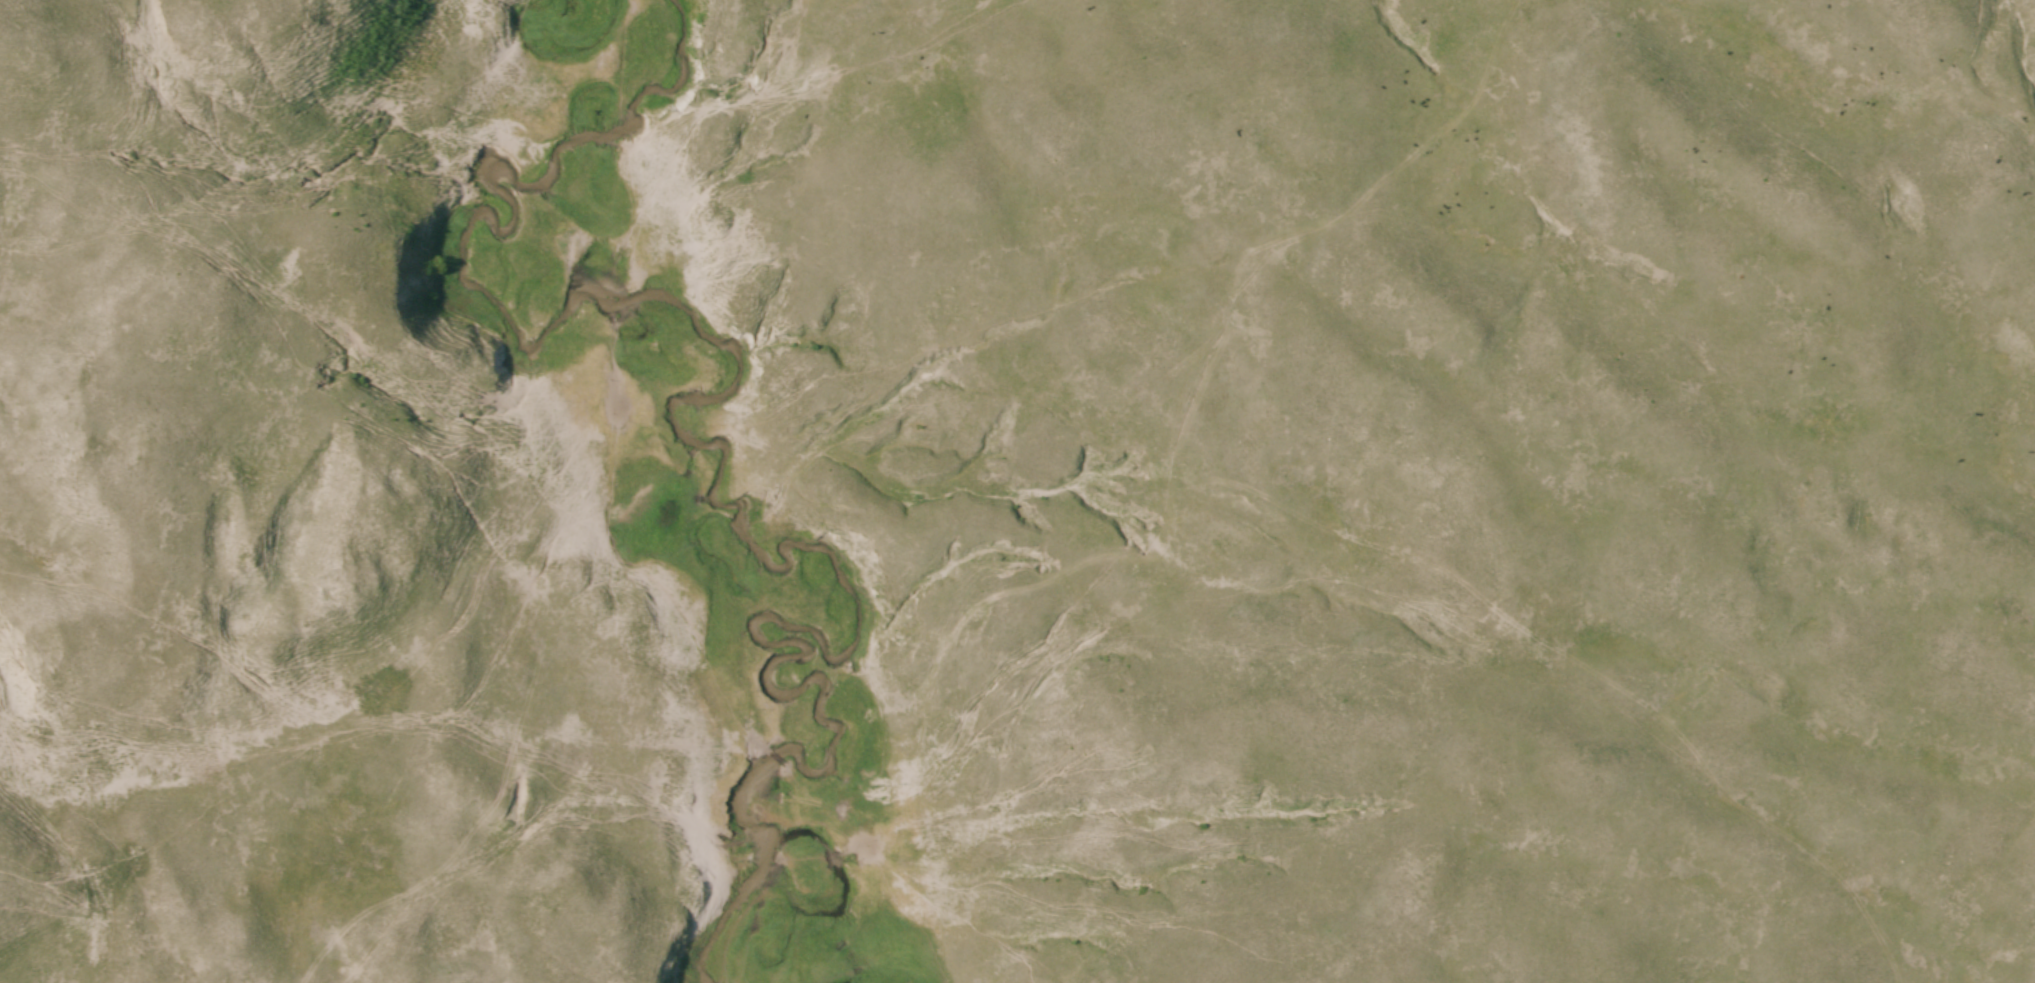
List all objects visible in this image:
river: (451, 259)
river: (833, 608)

